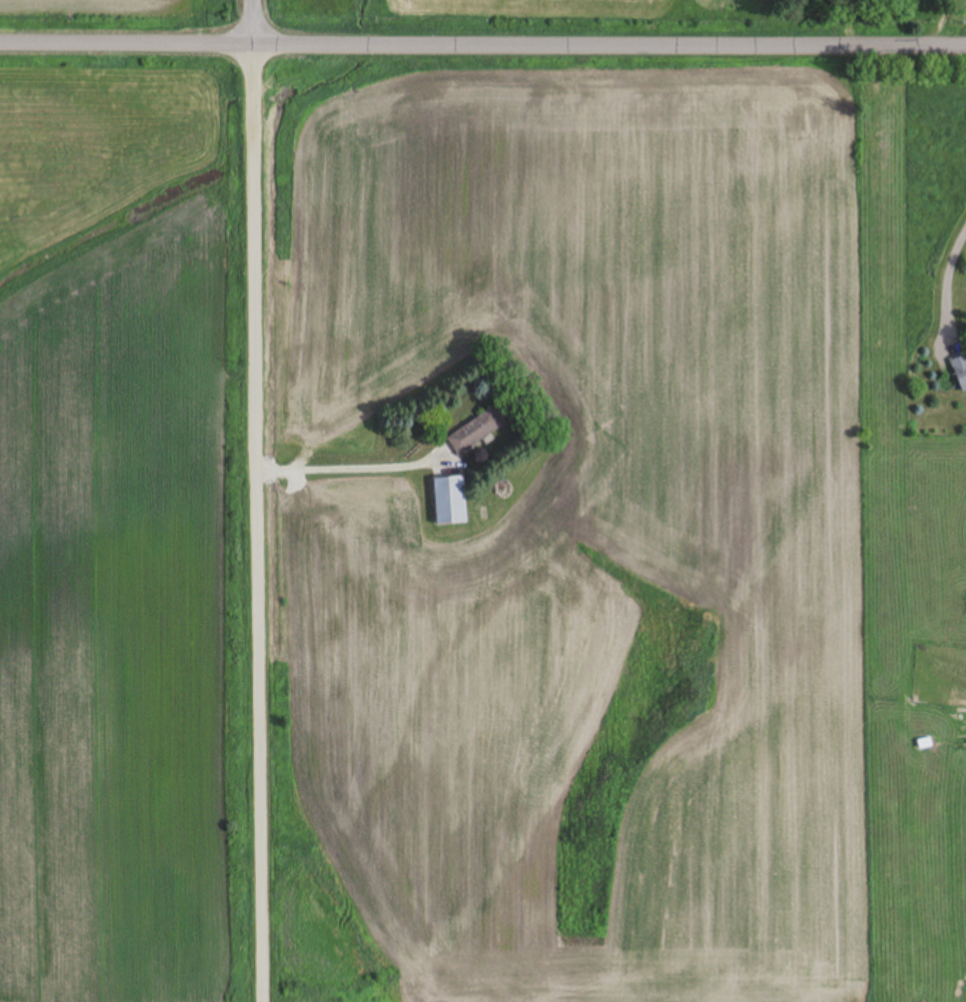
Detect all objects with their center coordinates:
crop: (121, 16)
road: (483, 43)
road: (953, 281)
building: (960, 370)
building: (475, 431)
building: (450, 499)
road: (258, 500)
crop: (566, 529)
crop: (125, 530)

